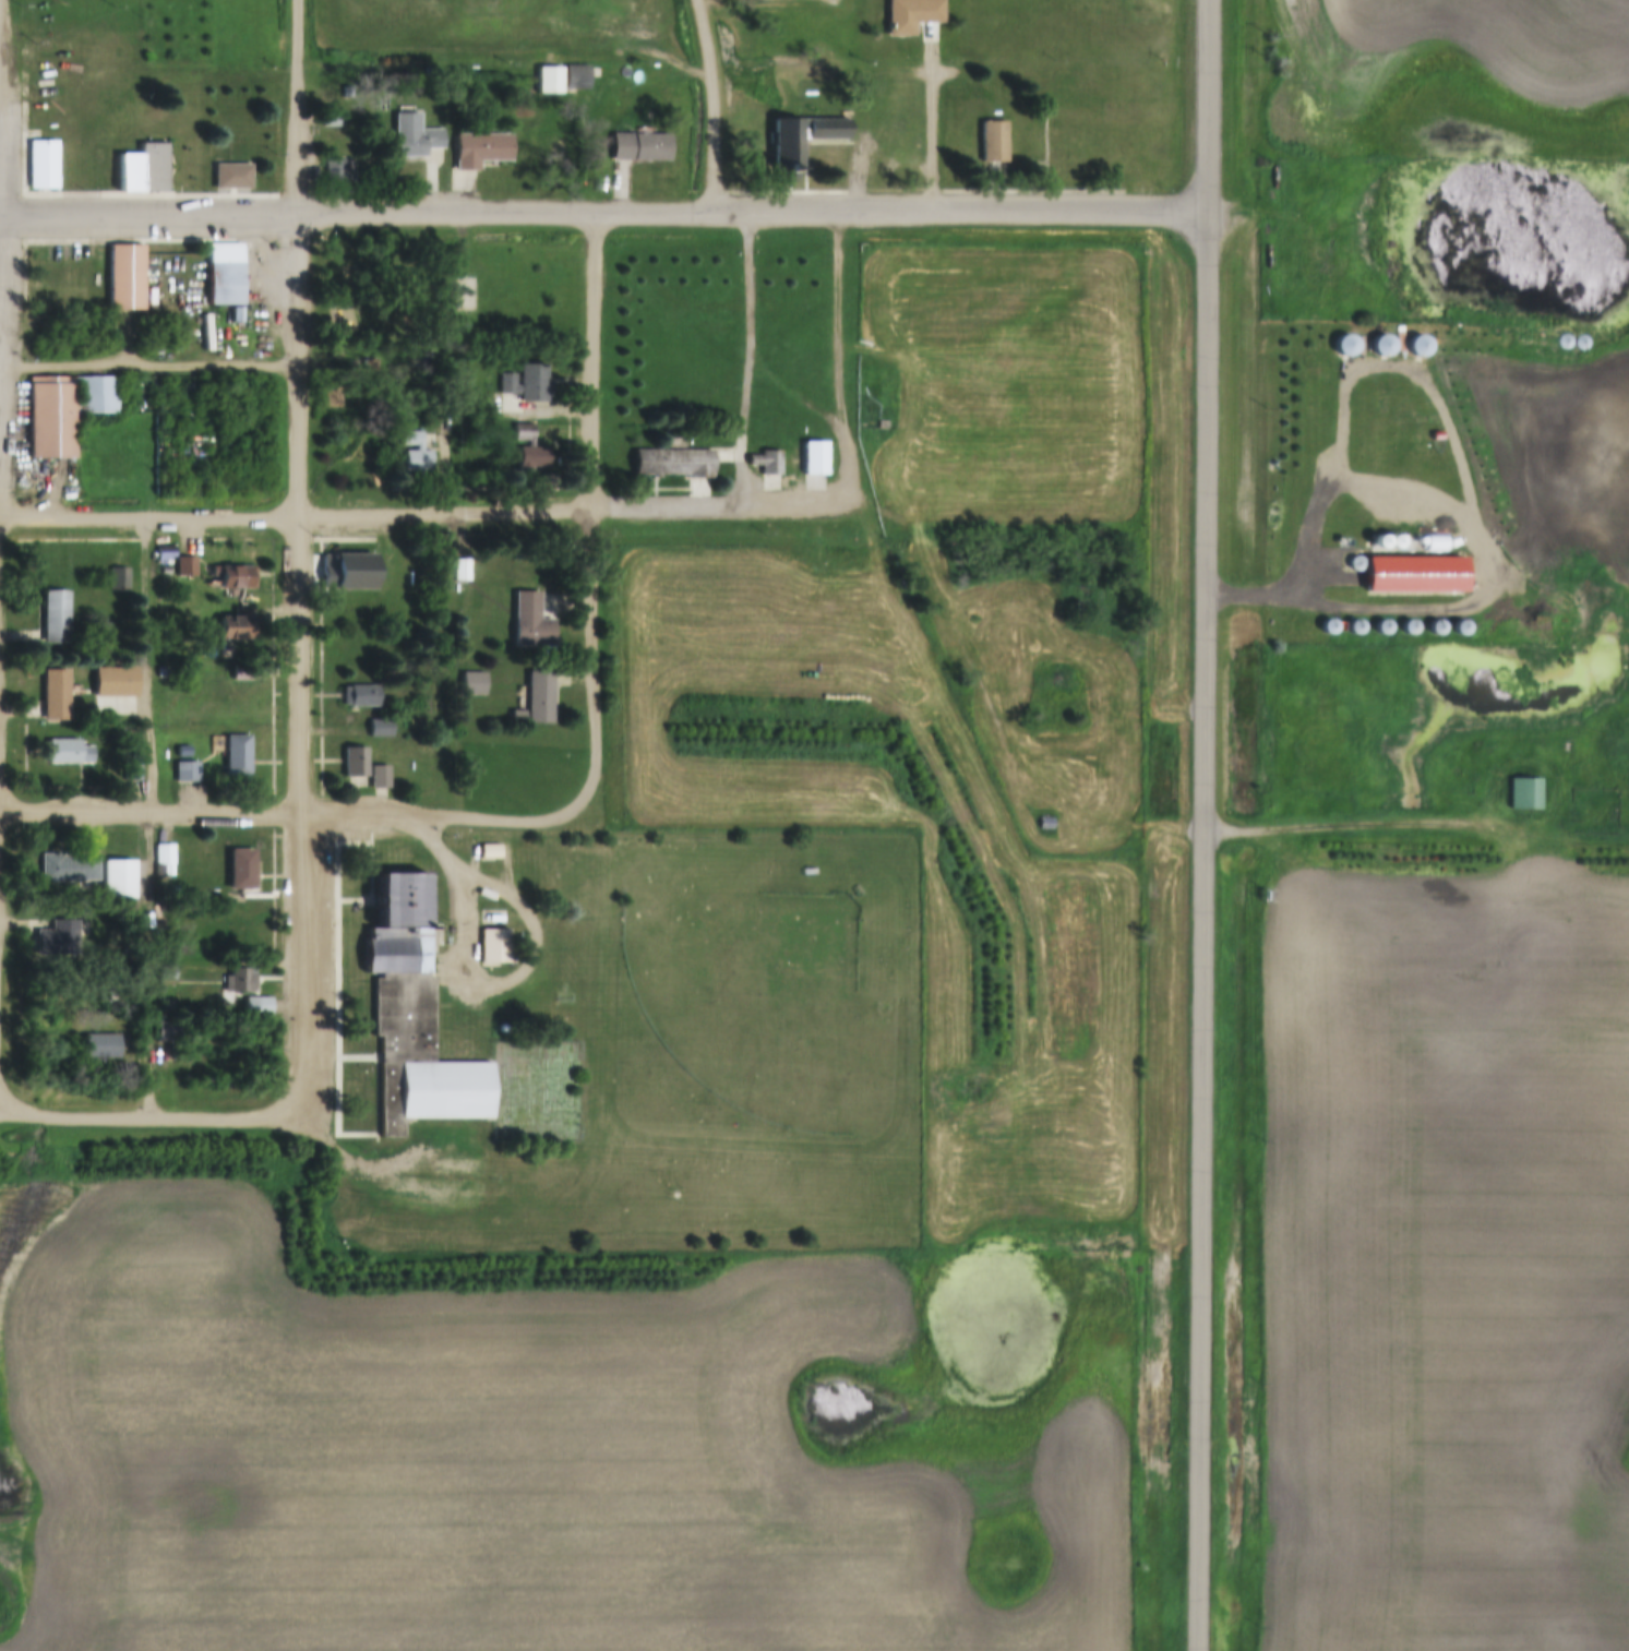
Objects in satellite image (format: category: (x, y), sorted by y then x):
building: (1147, 10)
building: (911, 14)
building: (575, 77)
building: (548, 80)
road: (710, 104)
road: (932, 119)
building: (331, 125)
building: (412, 136)
building: (992, 143)
building: (638, 147)
building: (479, 149)
building: (786, 156)
building: (41, 166)
building: (152, 168)
building: (129, 174)
building: (338, 174)
building: (231, 178)
road: (603, 212)
building: (224, 275)
building: (125, 278)
park: (448, 292)
park: (463, 295)
building: (236, 316)
building: (1345, 346)
silo: (1345, 346)
building: (1381, 347)
silo: (1381, 347)
building: (1417, 347)
silo: (1417, 347)
road: (750, 358)
road: (148, 364)
building: (526, 384)
building: (332, 397)
building: (61, 410)
road: (824, 414)
building: (528, 448)
building: (415, 453)
building: (813, 459)
building: (766, 463)
building: (674, 464)
road: (719, 506)
road: (591, 510)
road: (296, 519)
building: (165, 554)
road: (299, 562)
building: (1381, 564)
silo: (1381, 564)
building: (1329, 565)
silo: (1329, 565)
building: (1355, 565)
silo: (1355, 565)
building: (1409, 565)
silo: (1409, 565)
building: (1436, 565)
silo: (1436, 565)
building: (1462, 565)
silo: (1462, 565)
road: (1483, 566)
building: (185, 567)
building: (348, 572)
building: (459, 572)
building: (230, 577)
building: (118, 579)
building: (55, 619)
building: (530, 623)
building: (238, 625)
building: (1327, 627)
silo: (1327, 627)
building: (1354, 629)
silo: (1354, 629)
building: (1381, 629)
silo: (1381, 629)
building: (1408, 629)
silo: (1408, 629)
building: (1435, 630)
silo: (1435, 630)
building: (1460, 630)
silo: (1460, 630)
building: (109, 672)
building: (472, 685)
building: (55, 696)
building: (360, 697)
building: (539, 699)
building: (129, 711)
building: (380, 730)
building: (62, 753)
building: (236, 759)
building: (355, 764)
building: (131, 767)
building: (194, 774)
building: (379, 779)
building: (1523, 797)
road: (1076, 811)
road: (292, 815)
building: (1044, 824)
road: (1203, 825)
building: (489, 853)
building: (165, 859)
building: (67, 870)
building: (240, 871)
building: (117, 881)
building: (492, 919)
chimney: (426, 931)
building: (57, 941)
building: (493, 946)
building: (166, 973)
building: (238, 982)
road: (482, 982)
park: (752, 998)
building: (257, 1007)
building: (412, 1019)
building: (167, 1032)
building: (100, 1048)
park: (556, 1092)
park: (518, 1093)
road: (139, 1117)
road: (362, 1169)

